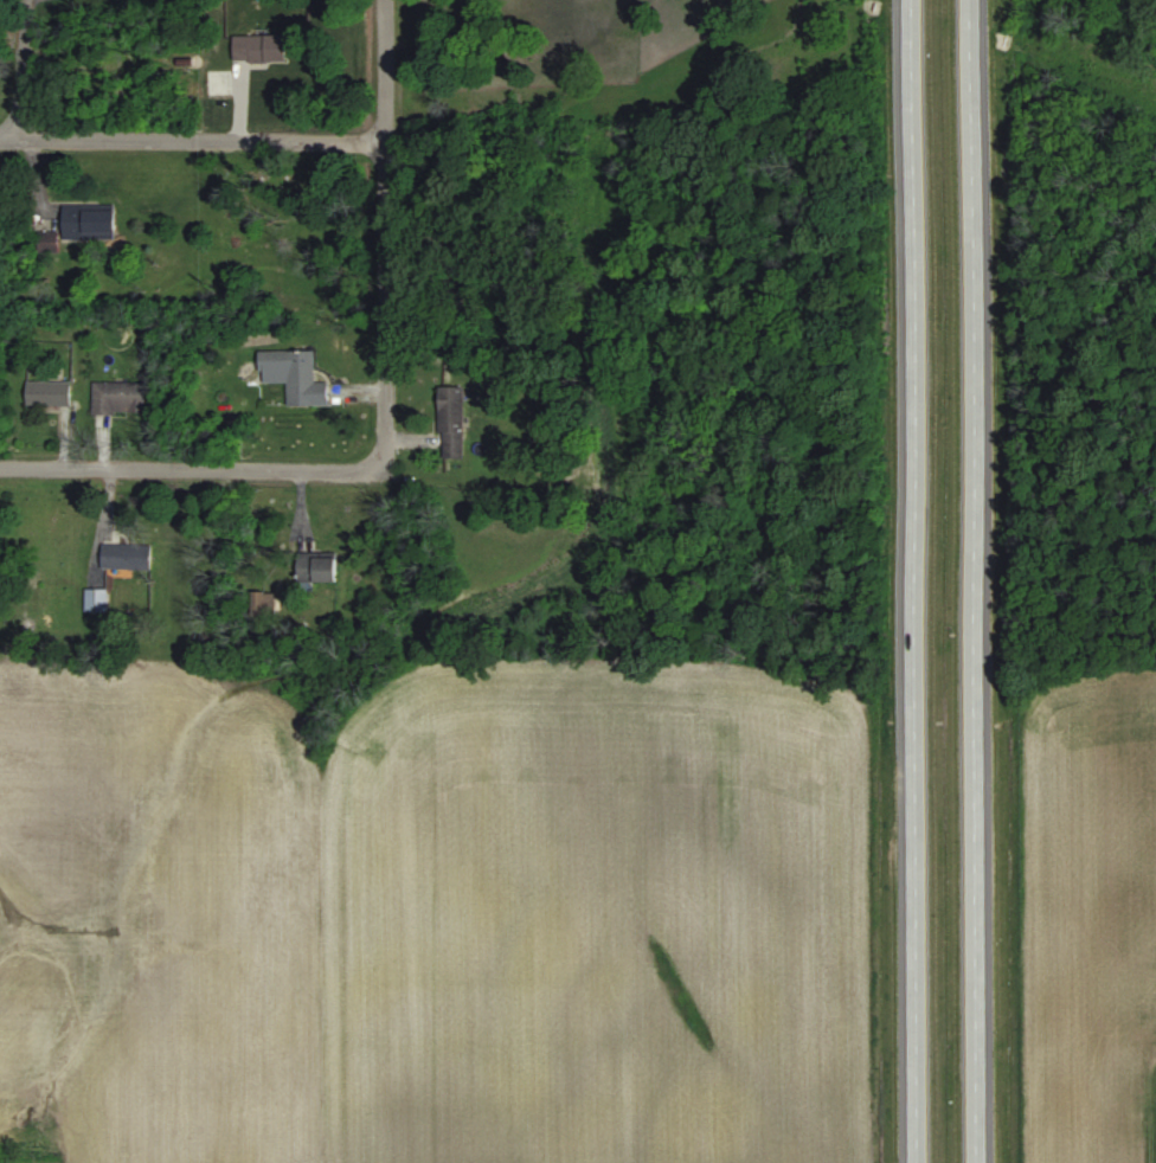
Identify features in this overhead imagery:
building: (258, 46)
road: (20, 70)
road: (193, 141)
building: (90, 223)
road: (386, 237)
building: (296, 374)
building: (47, 392)
building: (117, 397)
building: (450, 422)
road: (191, 471)
building: (124, 555)
building: (316, 568)
road: (912, 580)
road: (974, 580)
building: (95, 599)

